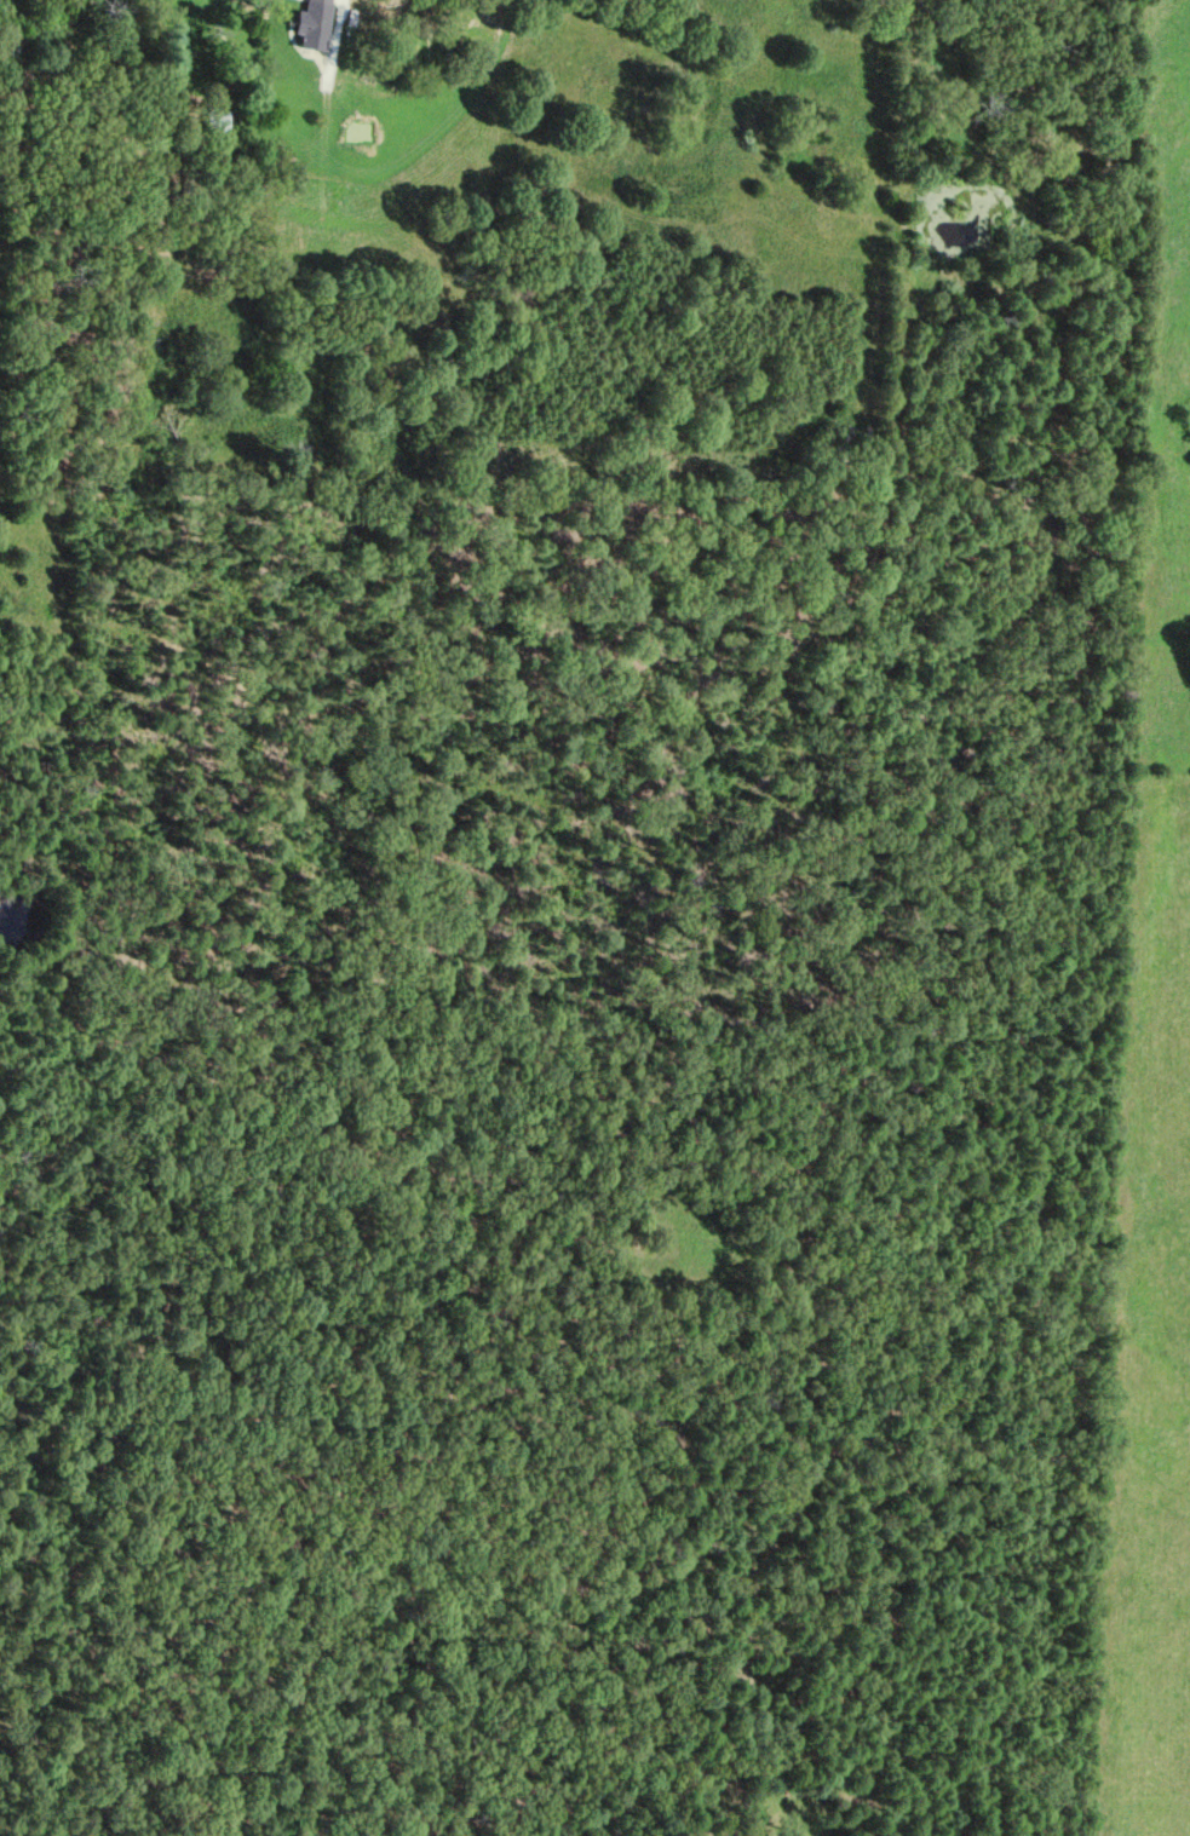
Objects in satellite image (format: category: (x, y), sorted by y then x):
building: (318, 24)

